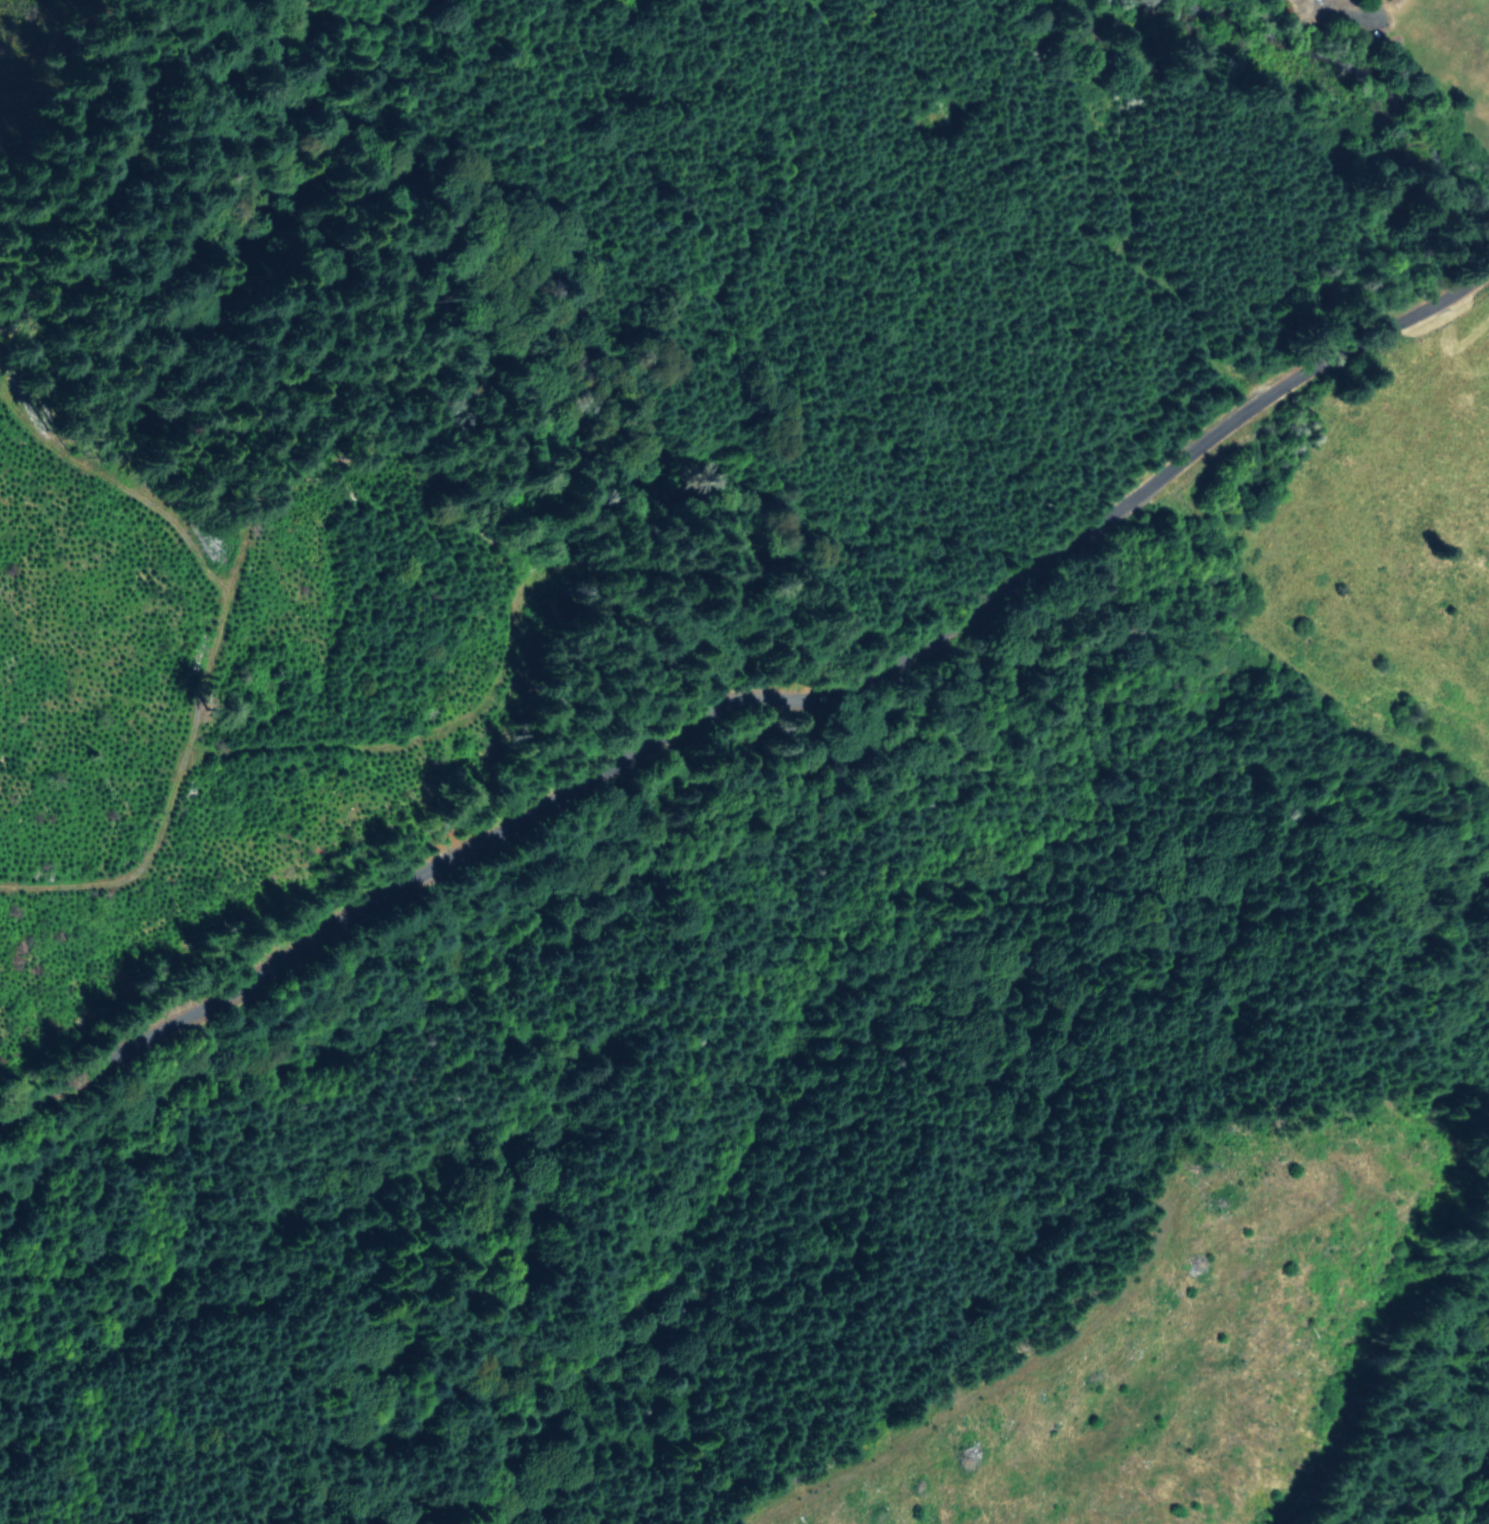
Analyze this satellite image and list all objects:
crop: (1442, 378)
road: (753, 691)

